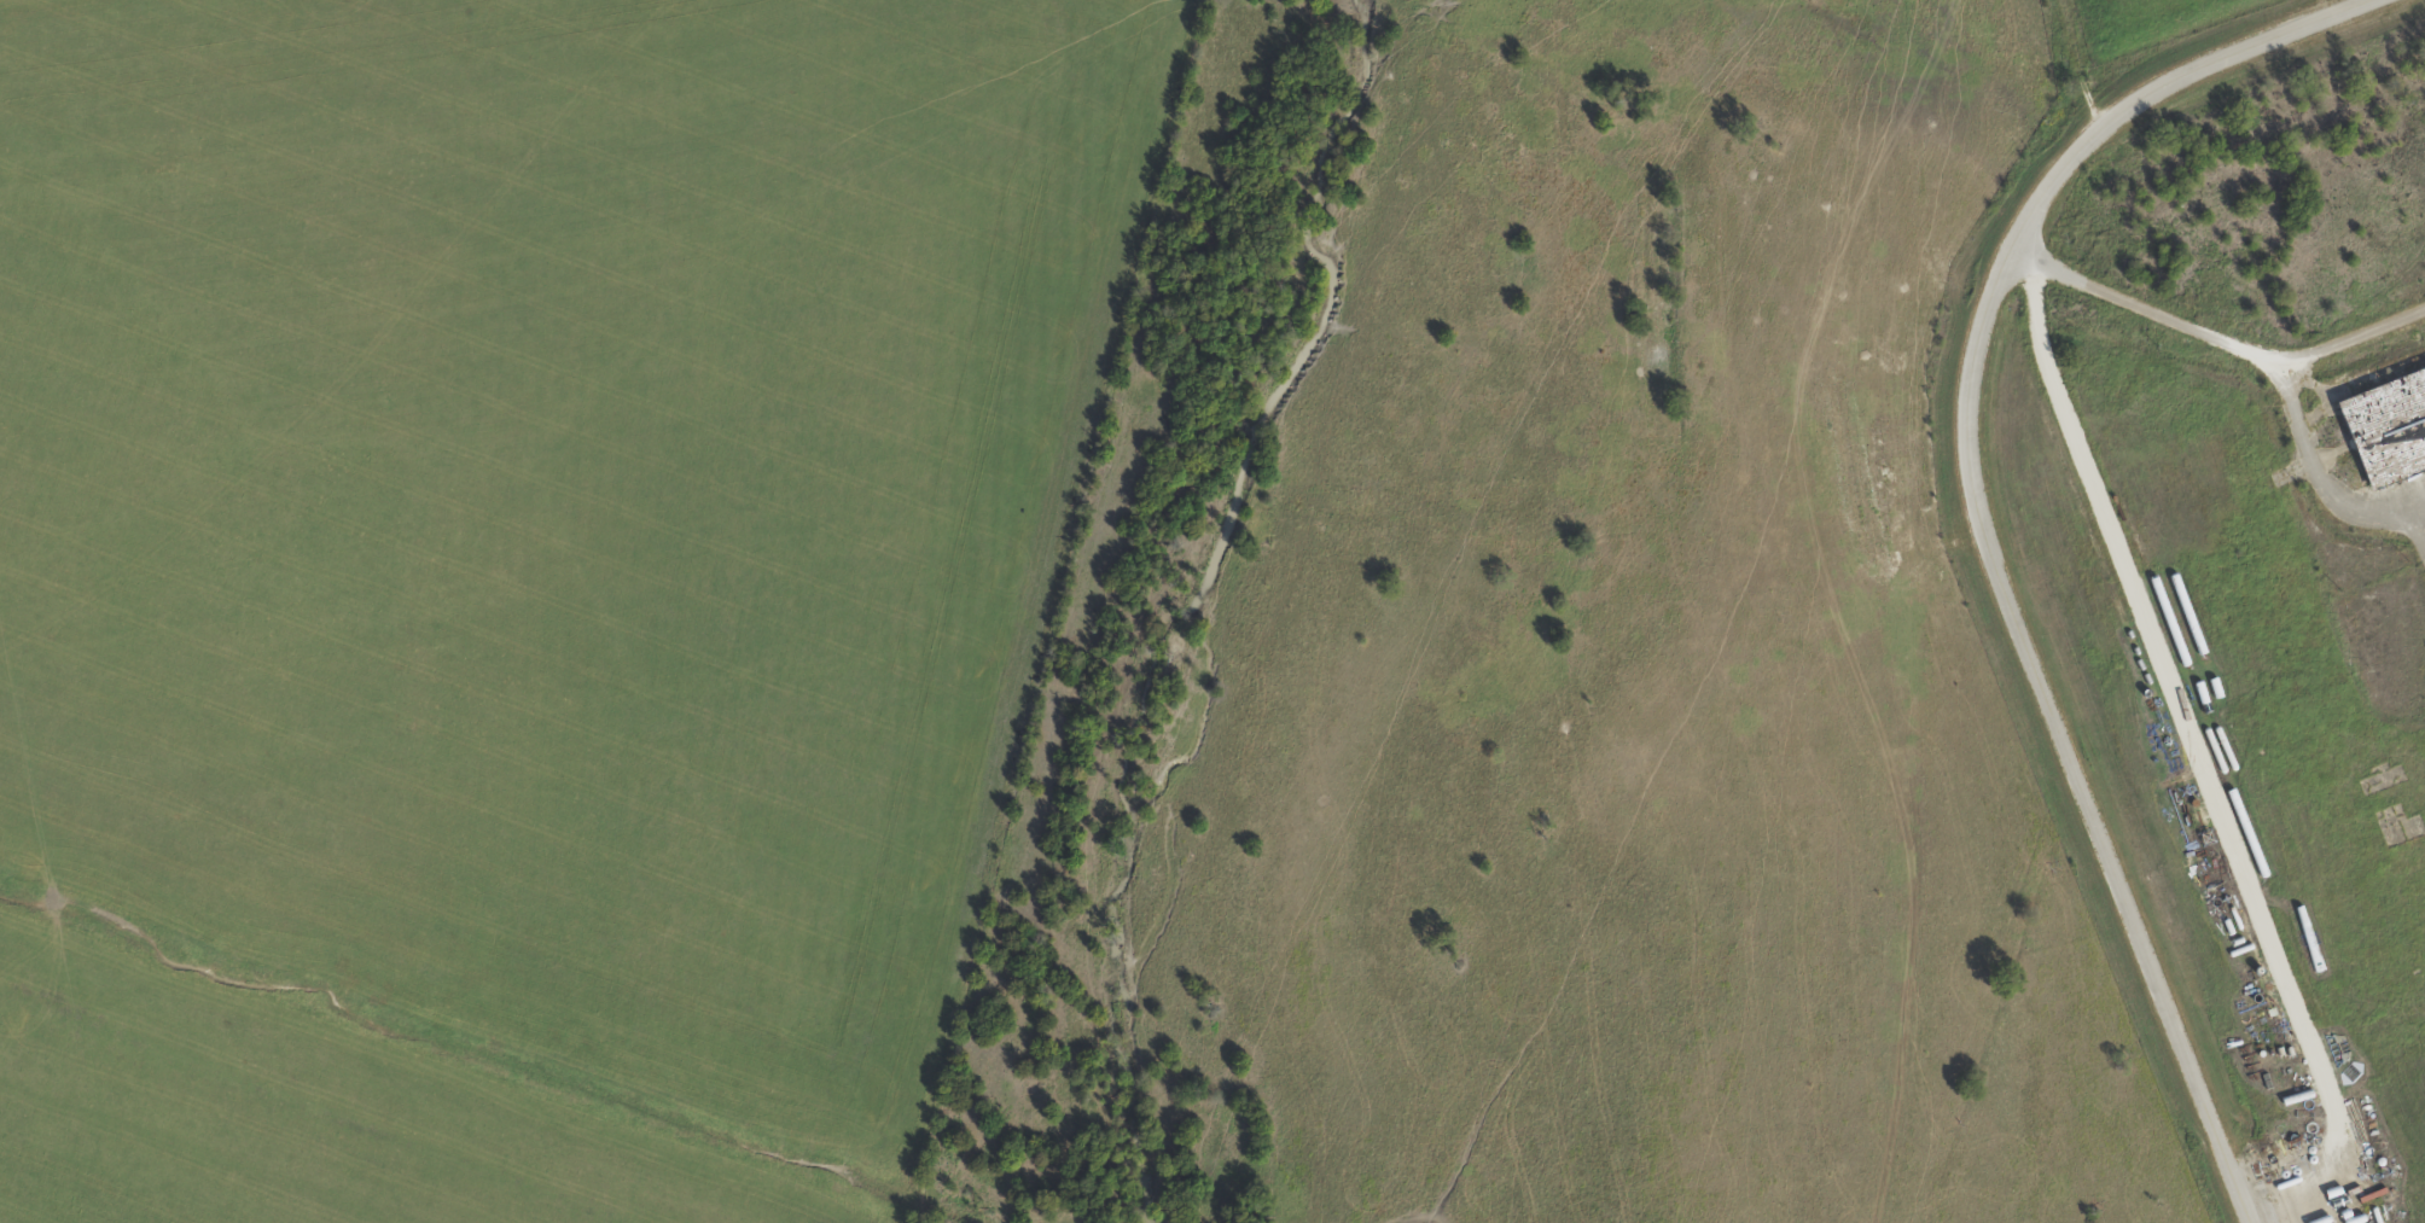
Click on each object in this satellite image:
road: (2226, 57)
road: (2076, 66)
road: (2150, 310)
road: (2296, 417)
building: (2386, 427)
road: (2404, 501)
road: (2039, 676)
road: (2194, 758)

